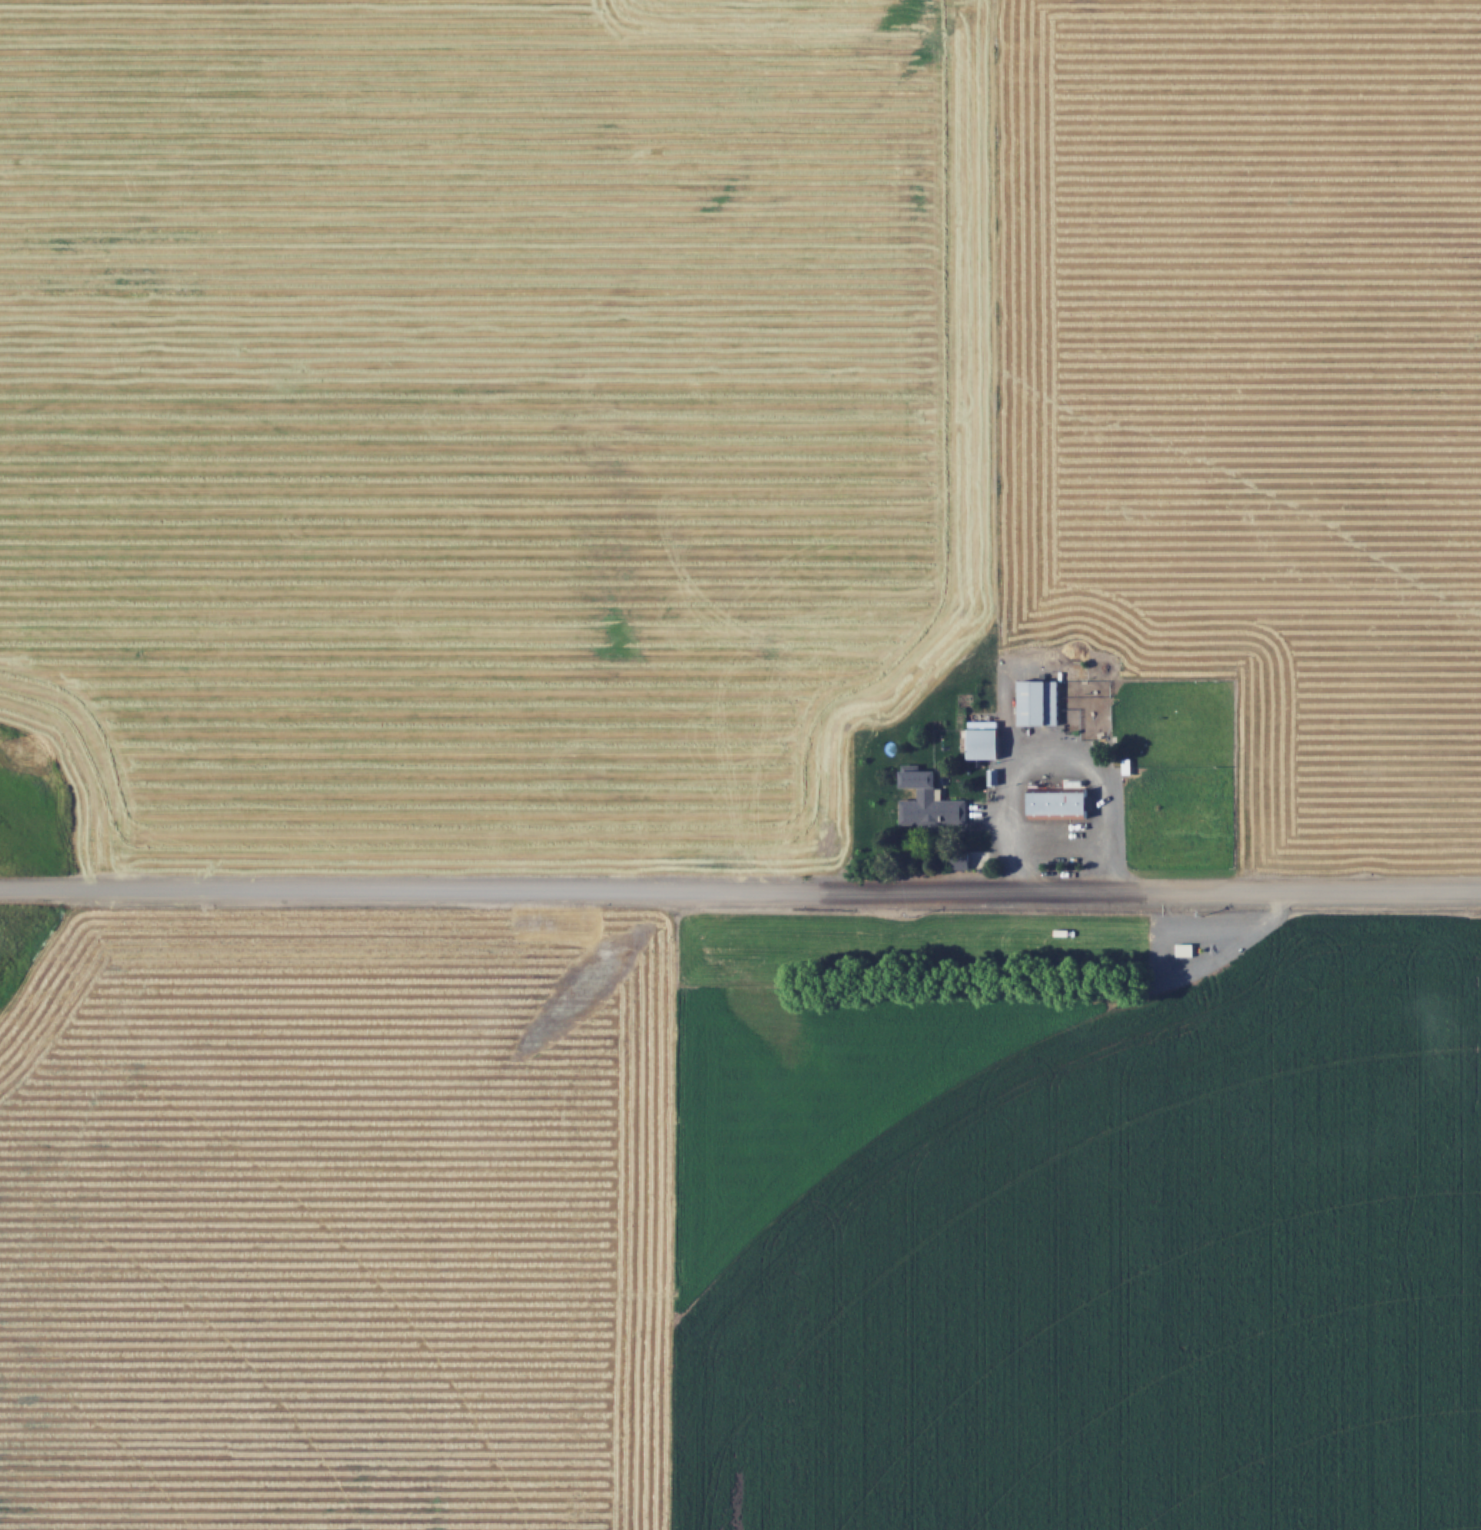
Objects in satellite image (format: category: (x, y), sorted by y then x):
building: (1041, 703)
building: (986, 743)
building: (1060, 803)
building: (933, 805)
road: (740, 886)
building: (1185, 950)

